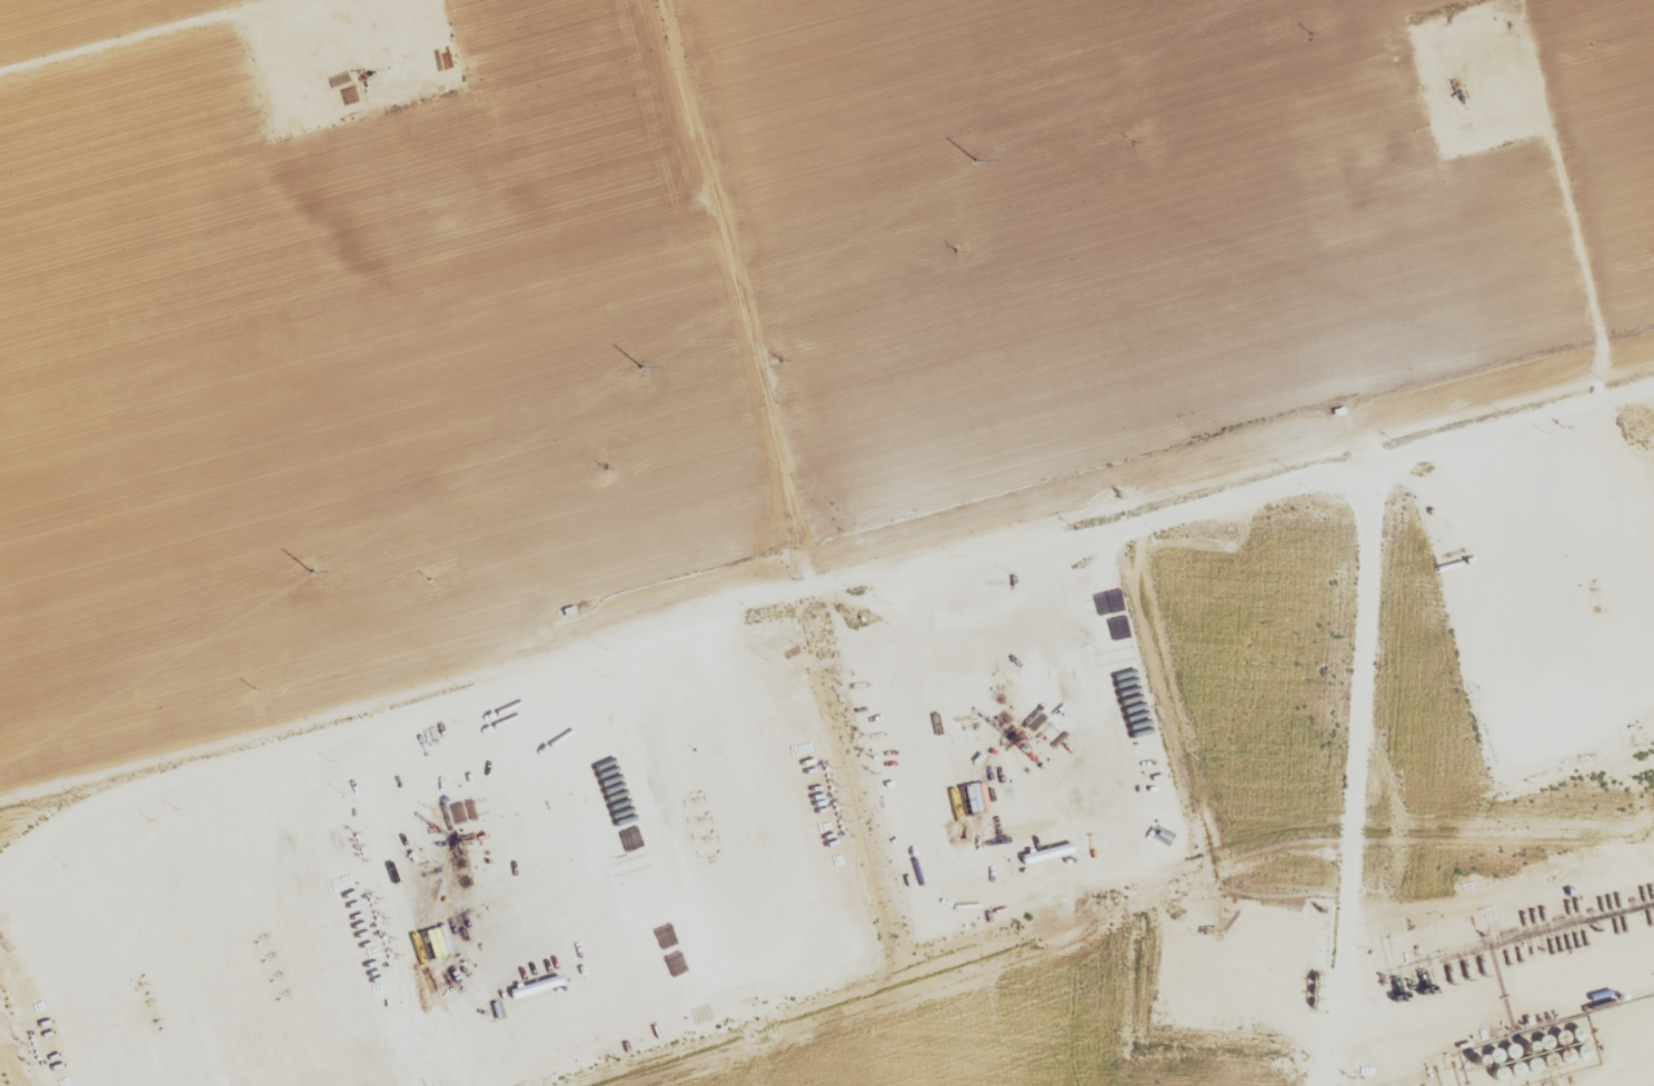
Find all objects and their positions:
power tower: (1309, 37)
power tower: (1133, 145)
power tower: (975, 160)
power tower: (956, 251)
power tower: (781, 360)
power tower: (640, 367)
power tower: (605, 470)
power tower: (312, 571)
power tower: (427, 580)
power tower: (252, 687)
power tower: (73, 796)
road: (888, 858)
road: (1566, 1033)

